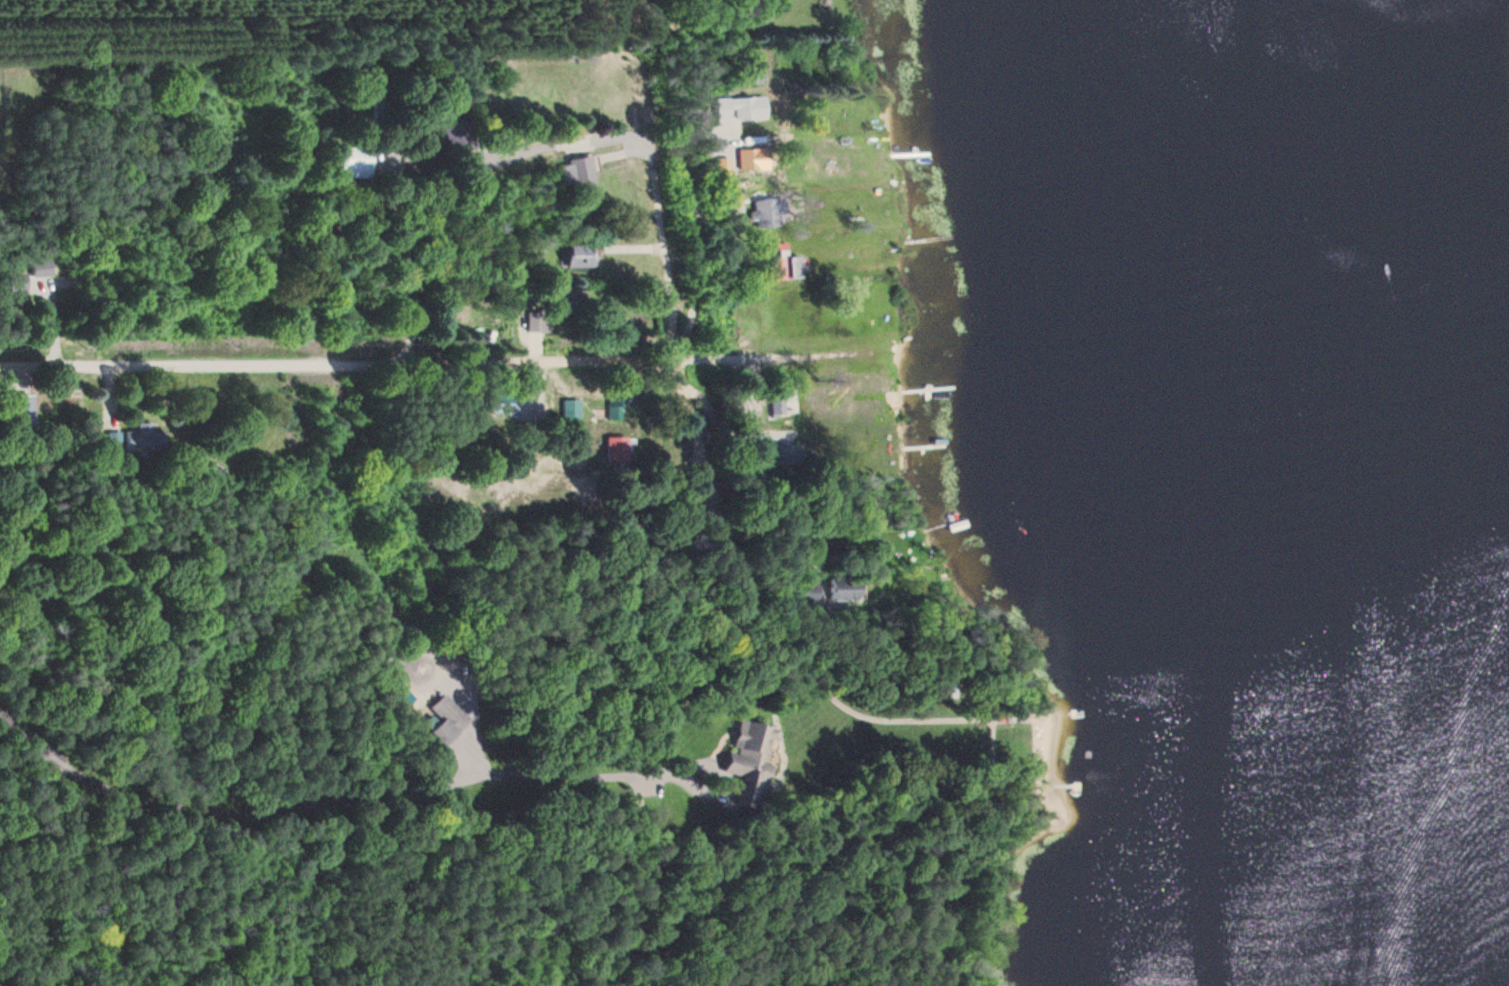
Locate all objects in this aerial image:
building: (748, 73)
building: (737, 109)
building: (462, 135)
building: (747, 158)
building: (356, 162)
building: (585, 173)
building: (764, 214)
building: (583, 256)
building: (783, 265)
building: (18, 288)
building: (577, 304)
building: (540, 321)
road: (672, 353)
road: (411, 364)
building: (146, 438)
building: (790, 455)
building: (839, 591)
building: (808, 594)
road: (325, 798)

